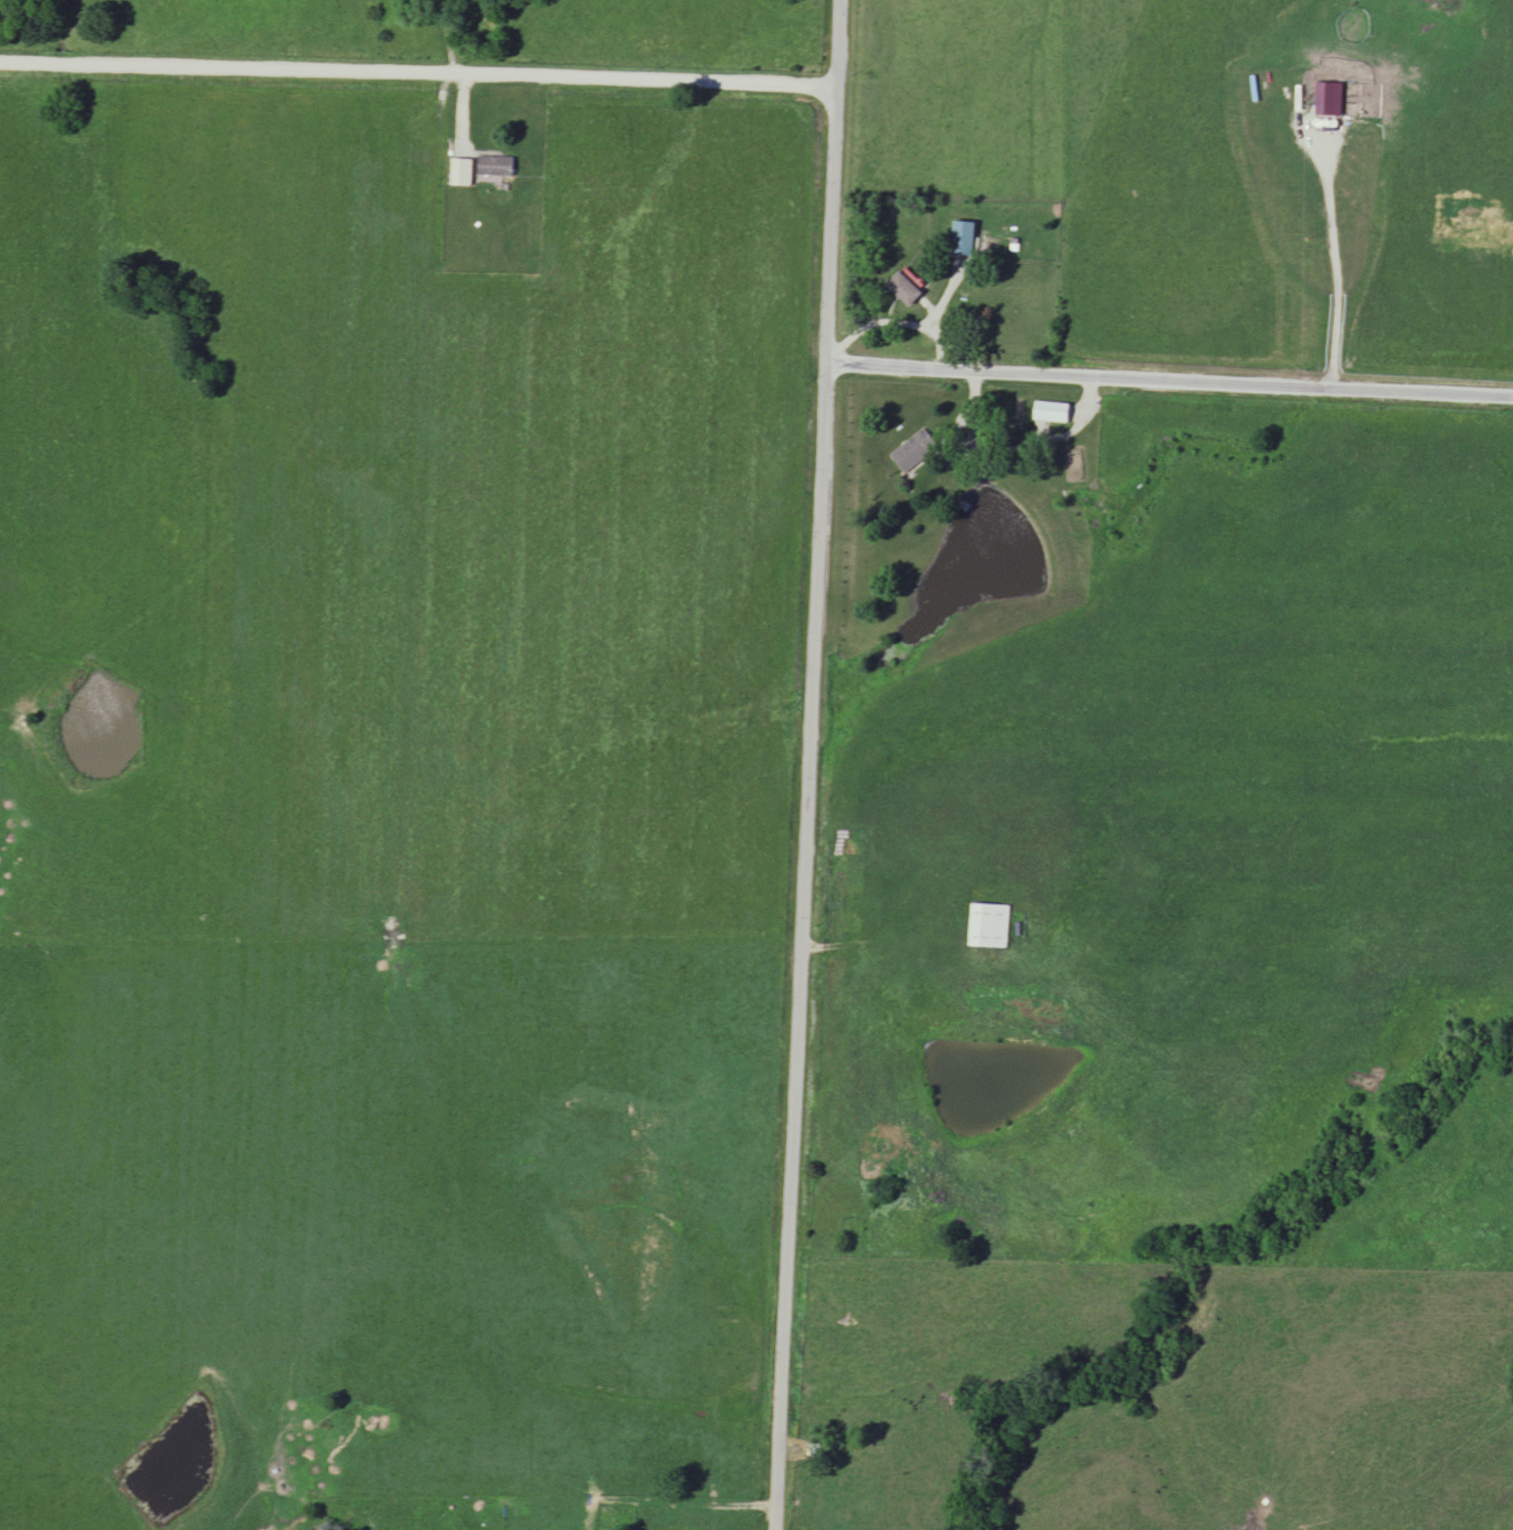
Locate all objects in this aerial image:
road: (418, 73)
building: (496, 167)
building: (463, 173)
building: (964, 240)
road: (1331, 259)
building: (906, 290)
road: (952, 299)
road: (904, 324)
building: (953, 327)
road: (1168, 381)
building: (1053, 413)
building: (914, 452)
road: (808, 765)
building: (991, 927)
road: (894, 953)
building: (817, 1452)
road: (706, 1515)

